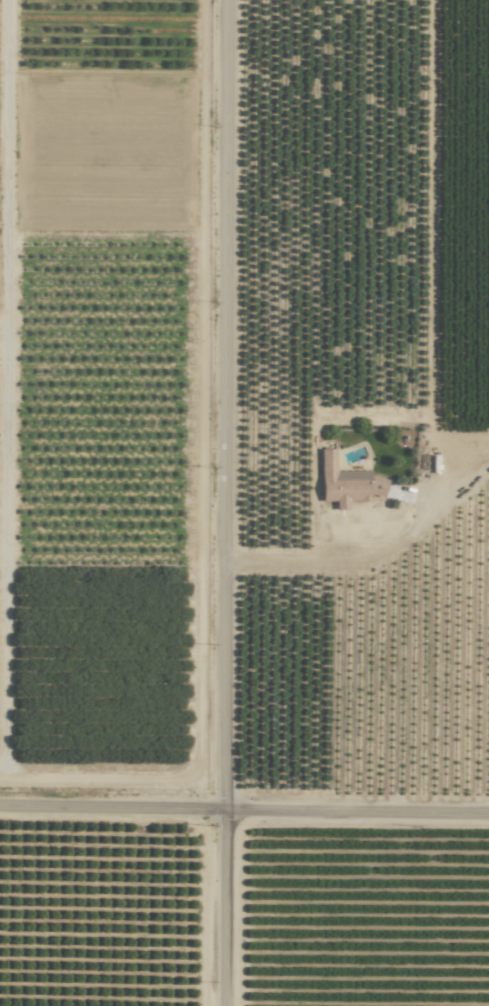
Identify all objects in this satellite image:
building: (345, 483)
road: (230, 503)
road: (318, 559)
road: (244, 817)

